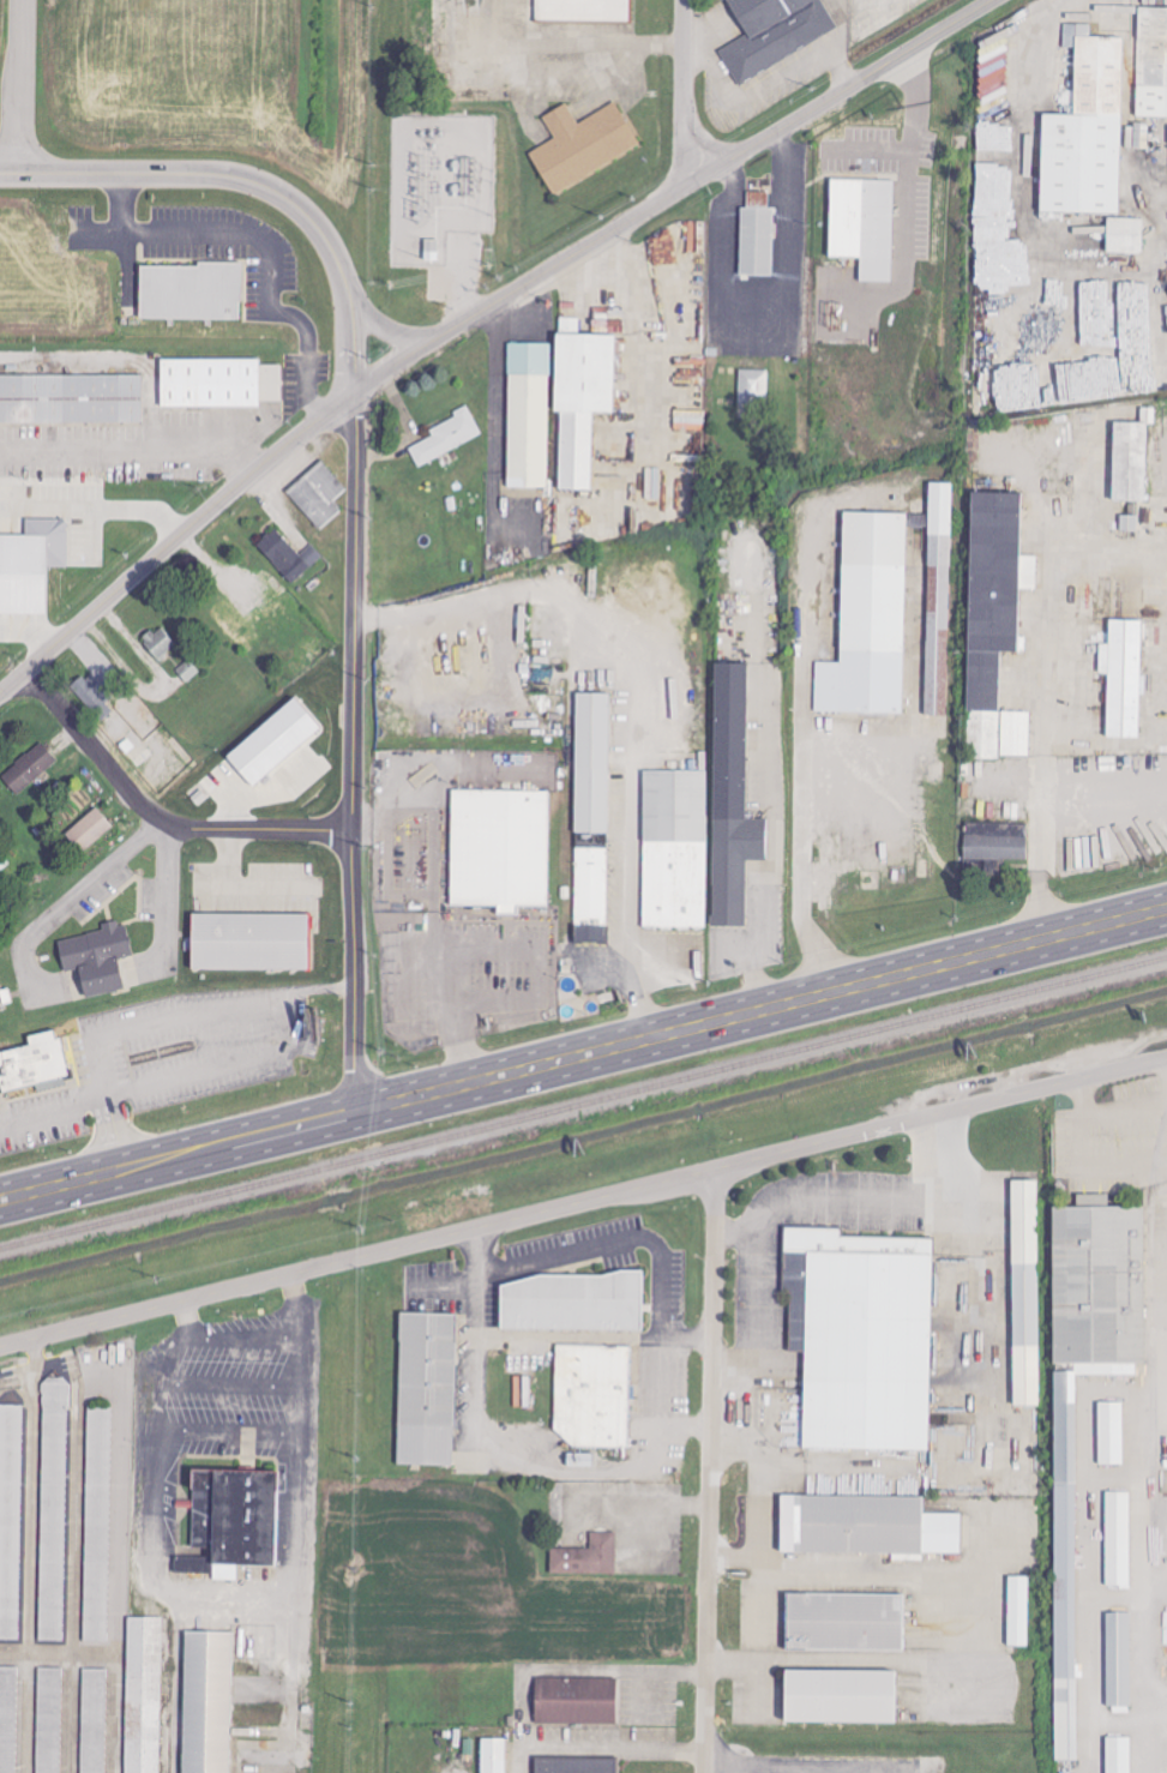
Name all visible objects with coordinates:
building: (583, 10)
building: (774, 32)
building: (1151, 62)
road: (19, 86)
road: (684, 90)
building: (1084, 130)
building: (582, 144)
road: (251, 181)
building: (989, 186)
road: (672, 196)
building: (862, 224)
building: (757, 235)
building: (1124, 235)
building: (191, 292)
road: (397, 335)
building: (218, 383)
building: (753, 386)
building: (70, 398)
building: (579, 401)
building: (528, 415)
building: (447, 437)
road: (495, 439)
road: (206, 446)
building: (1129, 462)
building: (318, 494)
road: (174, 540)
building: (289, 555)
building: (30, 564)
building: (937, 599)
building: (868, 619)
building: (233, 621)
building: (994, 623)
building: (158, 642)
building: (1123, 678)
building: (94, 697)
building: (272, 743)
road: (350, 755)
building: (591, 763)
building: (29, 769)
road: (443, 774)
building: (730, 800)
road: (1041, 805)
road: (156, 816)
building: (88, 829)
building: (995, 842)
building: (495, 847)
building: (675, 849)
road: (804, 858)
road: (114, 867)
building: (591, 895)
road: (628, 903)
road: (1147, 914)
building: (249, 940)
road: (488, 945)
road: (757, 948)
parking lot: (480, 956)
building: (96, 961)
road: (319, 988)
building: (4, 998)
road: (449, 1015)
road: (745, 1015)
parking lot: (166, 1058)
building: (34, 1062)
road: (1162, 1076)
railway: (583, 1105)
road: (115, 1140)
road: (181, 1155)
road: (790, 1194)
road: (583, 1202)
road: (655, 1246)
building: (1099, 1281)
building: (1025, 1293)
building: (575, 1302)
railway: (1151, 1335)
building: (862, 1336)
building: (426, 1388)
building: (592, 1394)
building: (1109, 1432)
road: (733, 1449)
road: (499, 1450)
road: (706, 1471)
road: (763, 1489)
building: (54, 1510)
building: (11, 1517)
building: (231, 1521)
building: (98, 1523)
building: (866, 1525)
building: (1118, 1538)
building: (586, 1556)
road: (229, 1598)
building: (1018, 1610)
building: (844, 1621)
building: (1118, 1659)
road: (829, 1664)
road: (170, 1683)
building: (144, 1695)
building: (840, 1695)
building: (576, 1700)
building: (206, 1702)
building: (8, 1718)
building: (49, 1720)
building: (94, 1720)
building: (1118, 1754)
building: (493, 1755)
building: (575, 1766)

